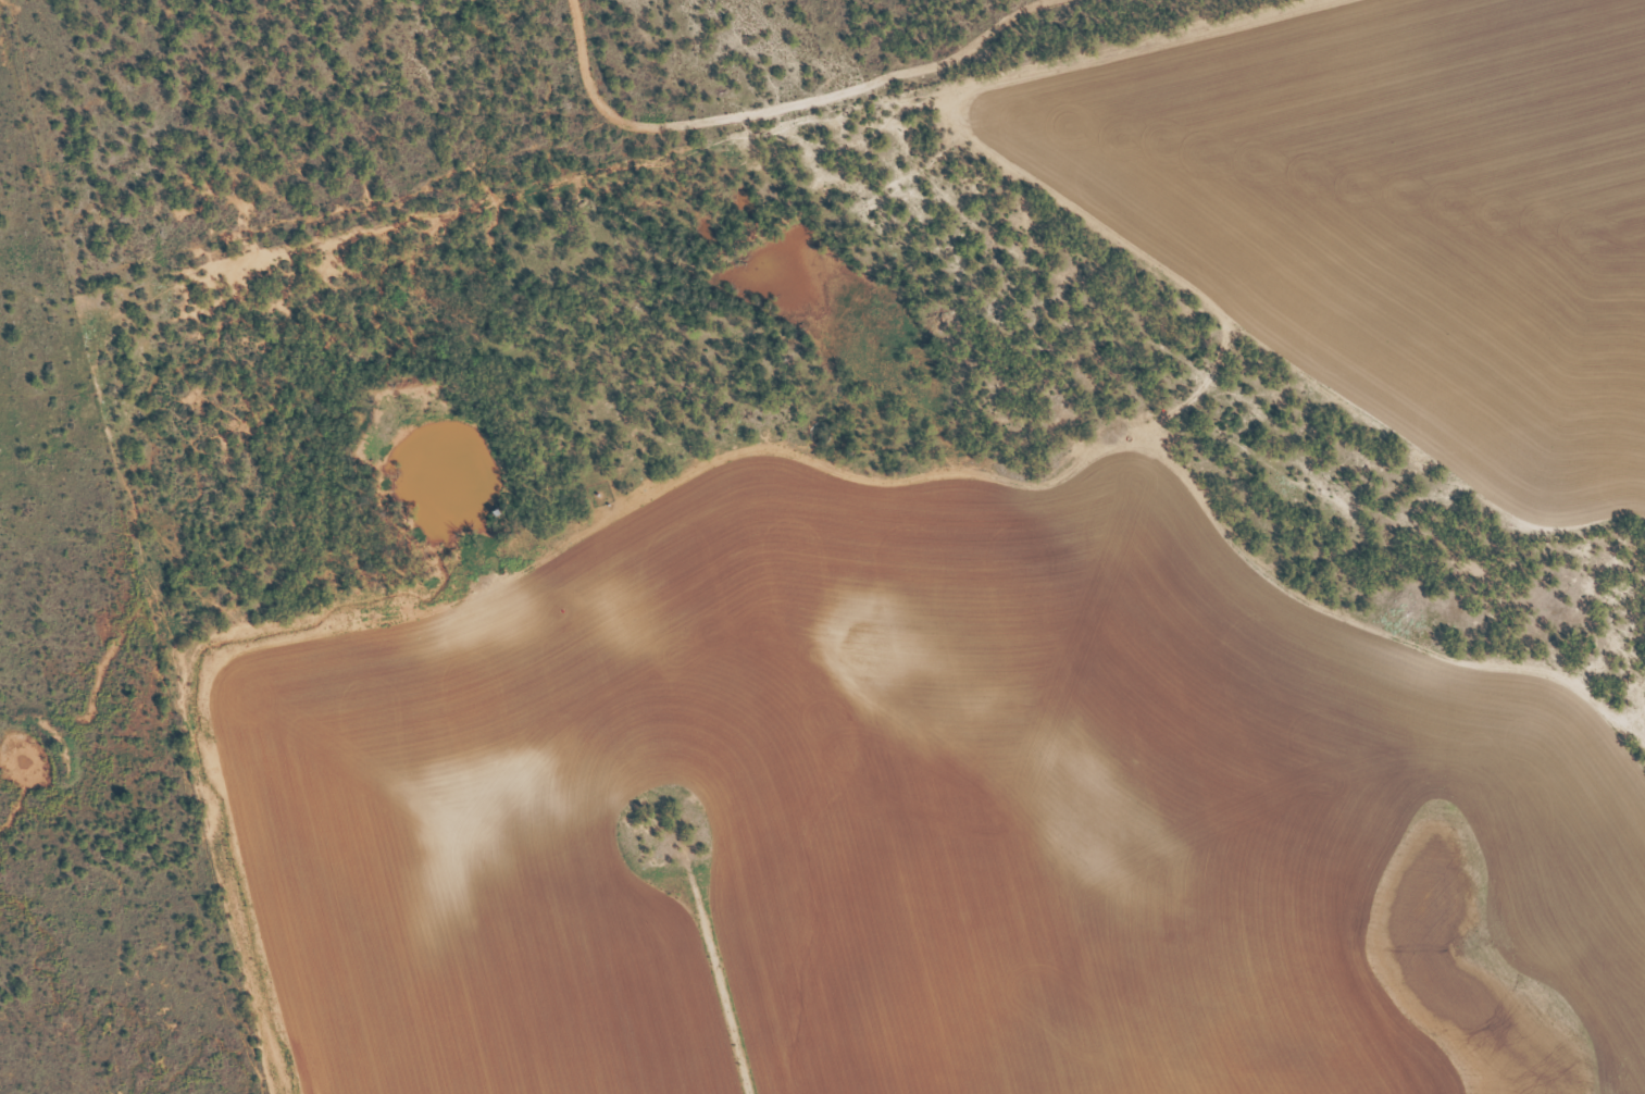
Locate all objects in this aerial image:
road: (1637, 738)

